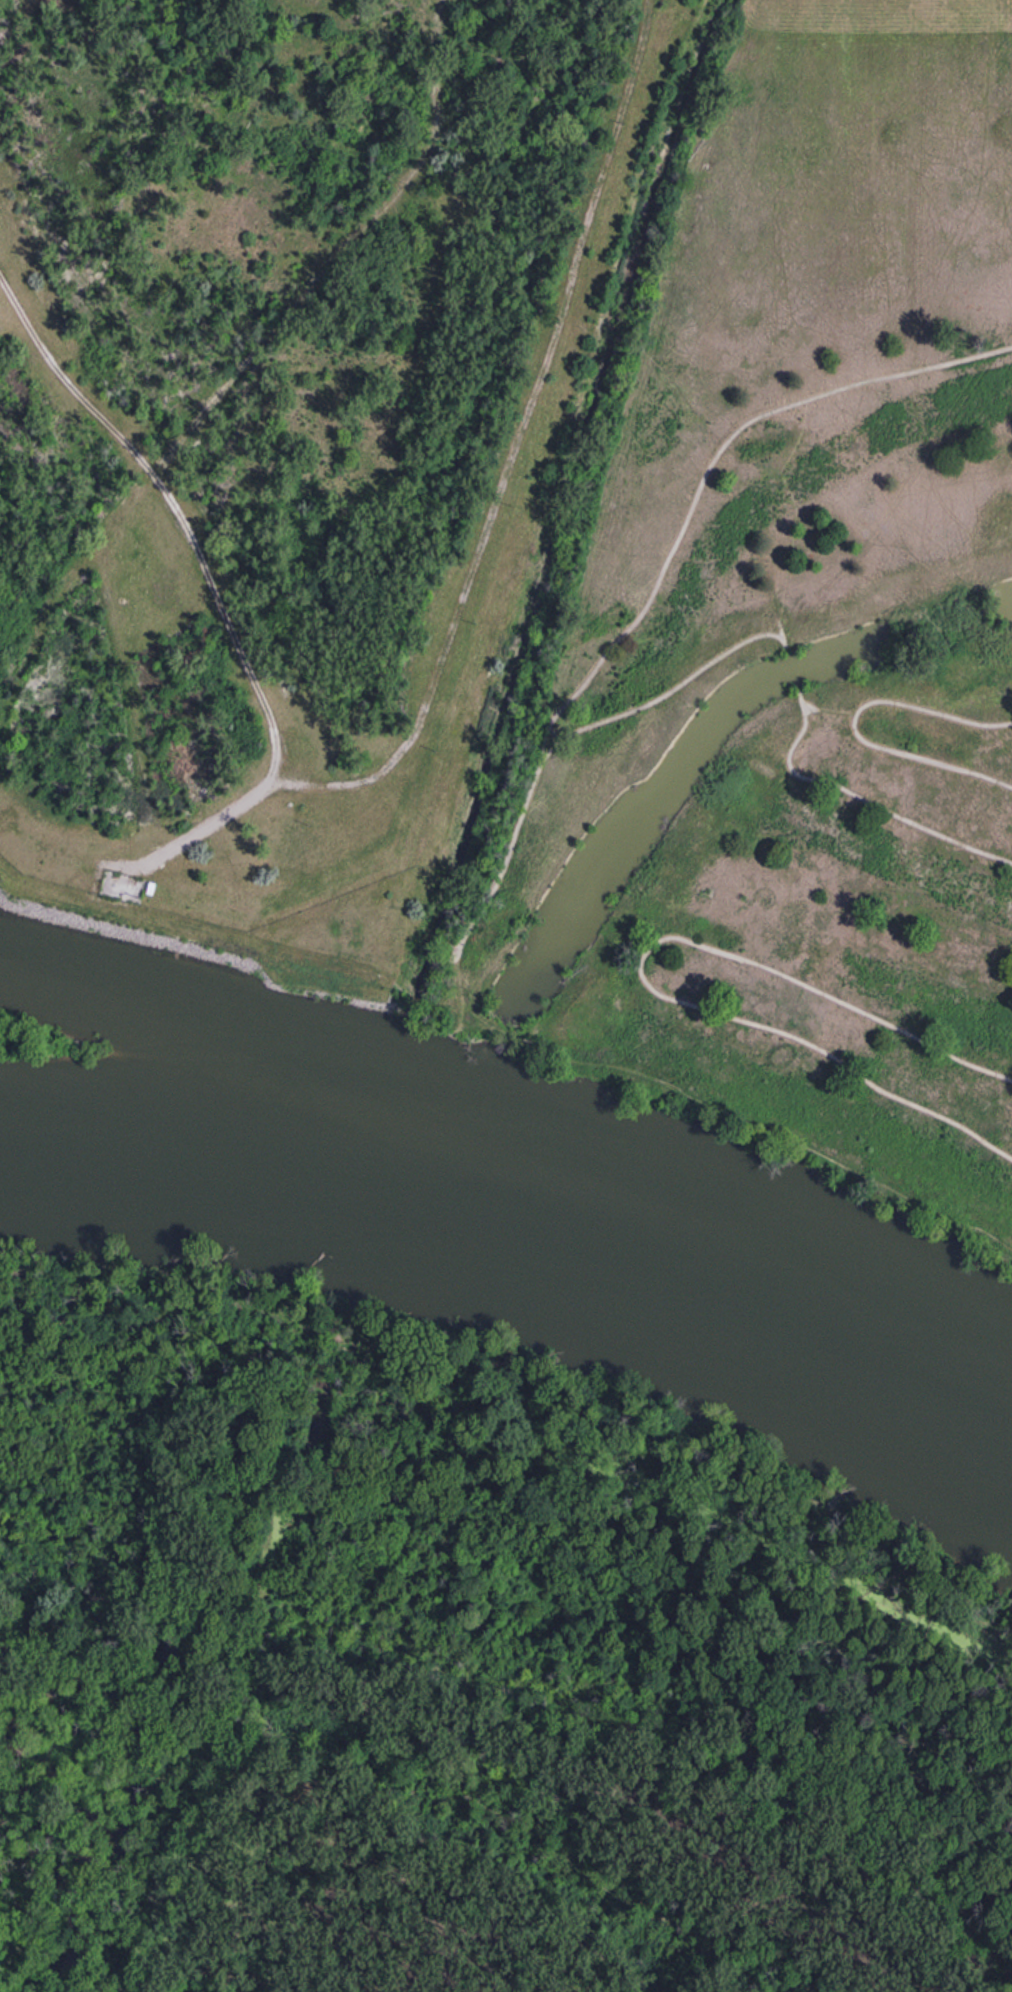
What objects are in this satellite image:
road: (716, 456)
park: (812, 594)
road: (782, 631)
road: (787, 649)
road: (793, 669)
road: (669, 692)
road: (891, 702)
road: (964, 769)
road: (859, 797)
road: (800, 982)
road: (850, 1065)
river: (525, 1248)
road: (490, 1494)

